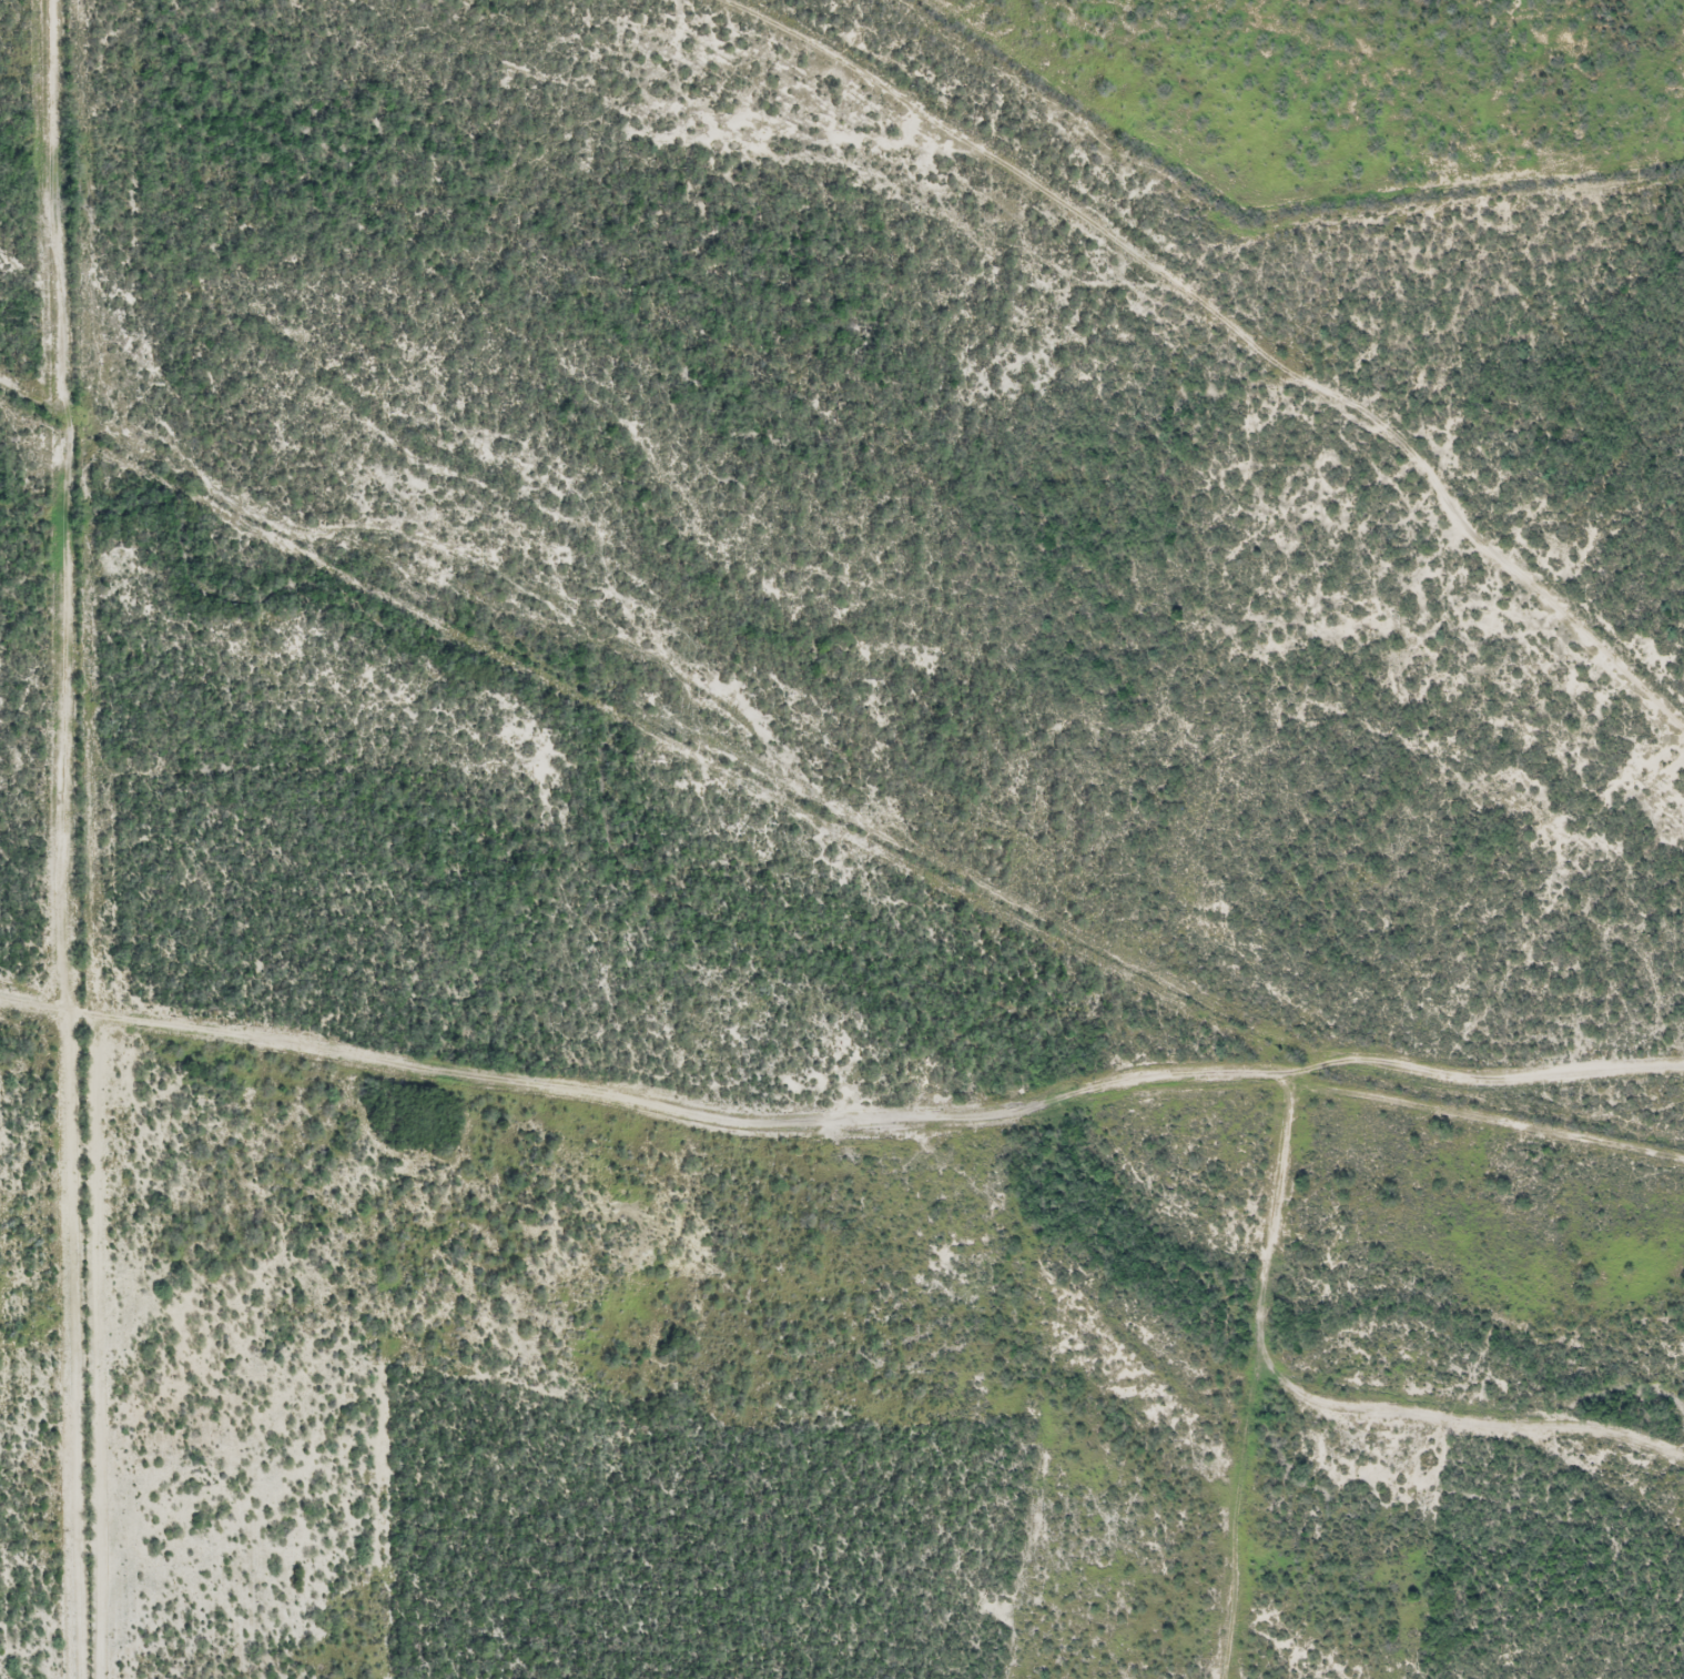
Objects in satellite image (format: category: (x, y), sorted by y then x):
road: (1246, 309)
road: (839, 1139)

